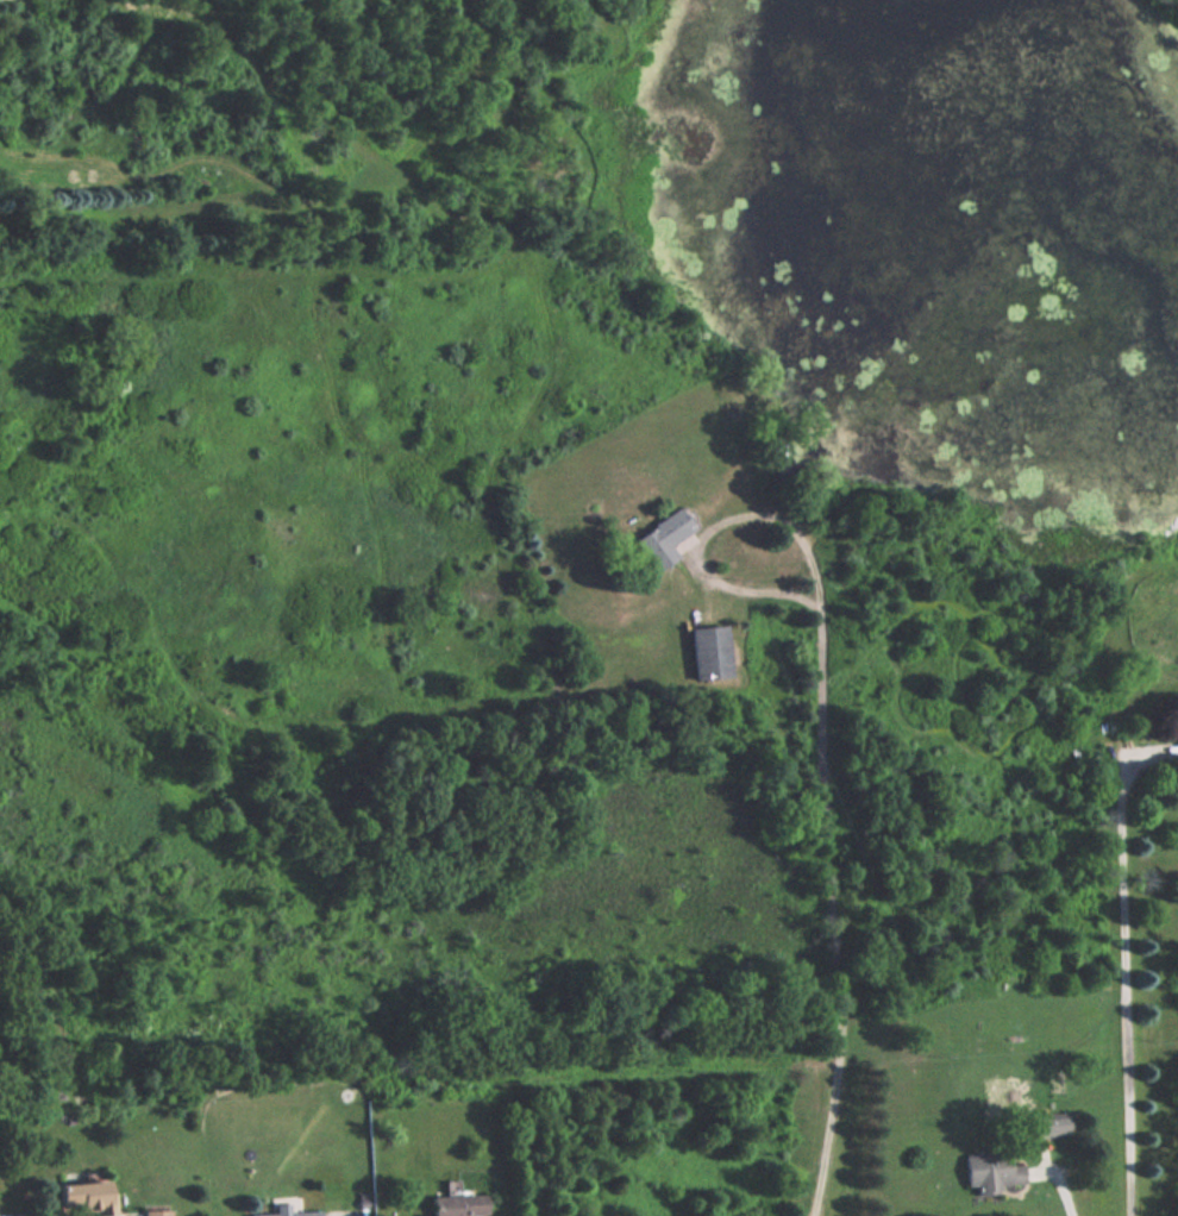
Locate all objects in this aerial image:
road: (706, 526)
building: (664, 537)
building: (710, 652)
road: (834, 913)
road: (1123, 963)
building: (1049, 1123)
building: (992, 1171)
road: (1064, 1185)
building: (86, 1197)
building: (458, 1205)
building: (301, 1210)
building: (156, 1212)

